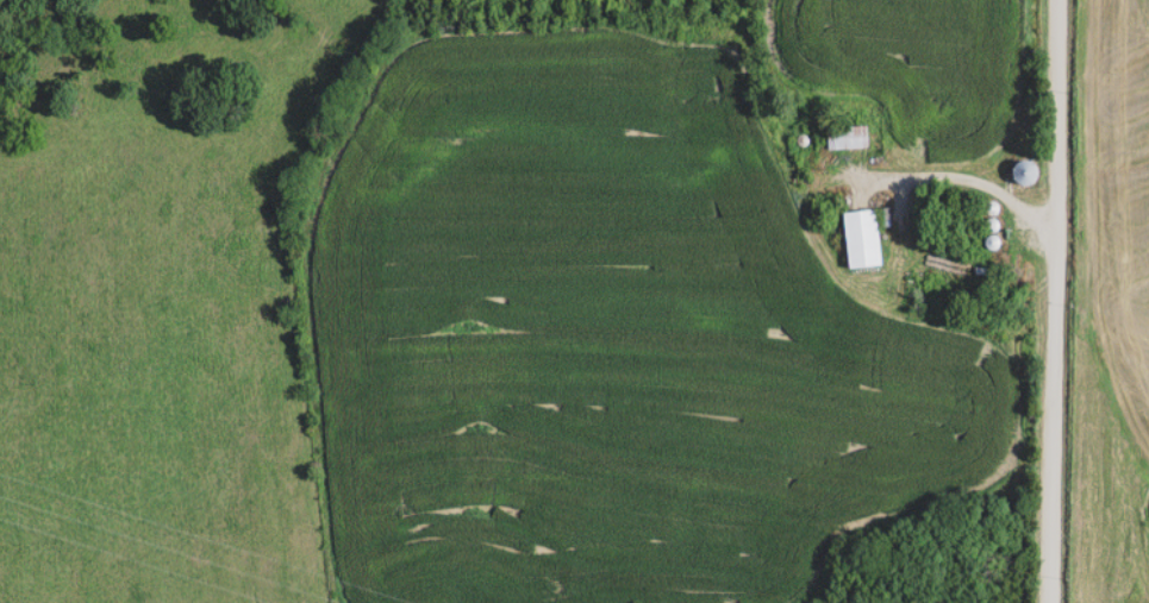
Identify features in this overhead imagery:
building: (841, 140)
building: (1016, 175)
building: (855, 240)
road: (1051, 301)

